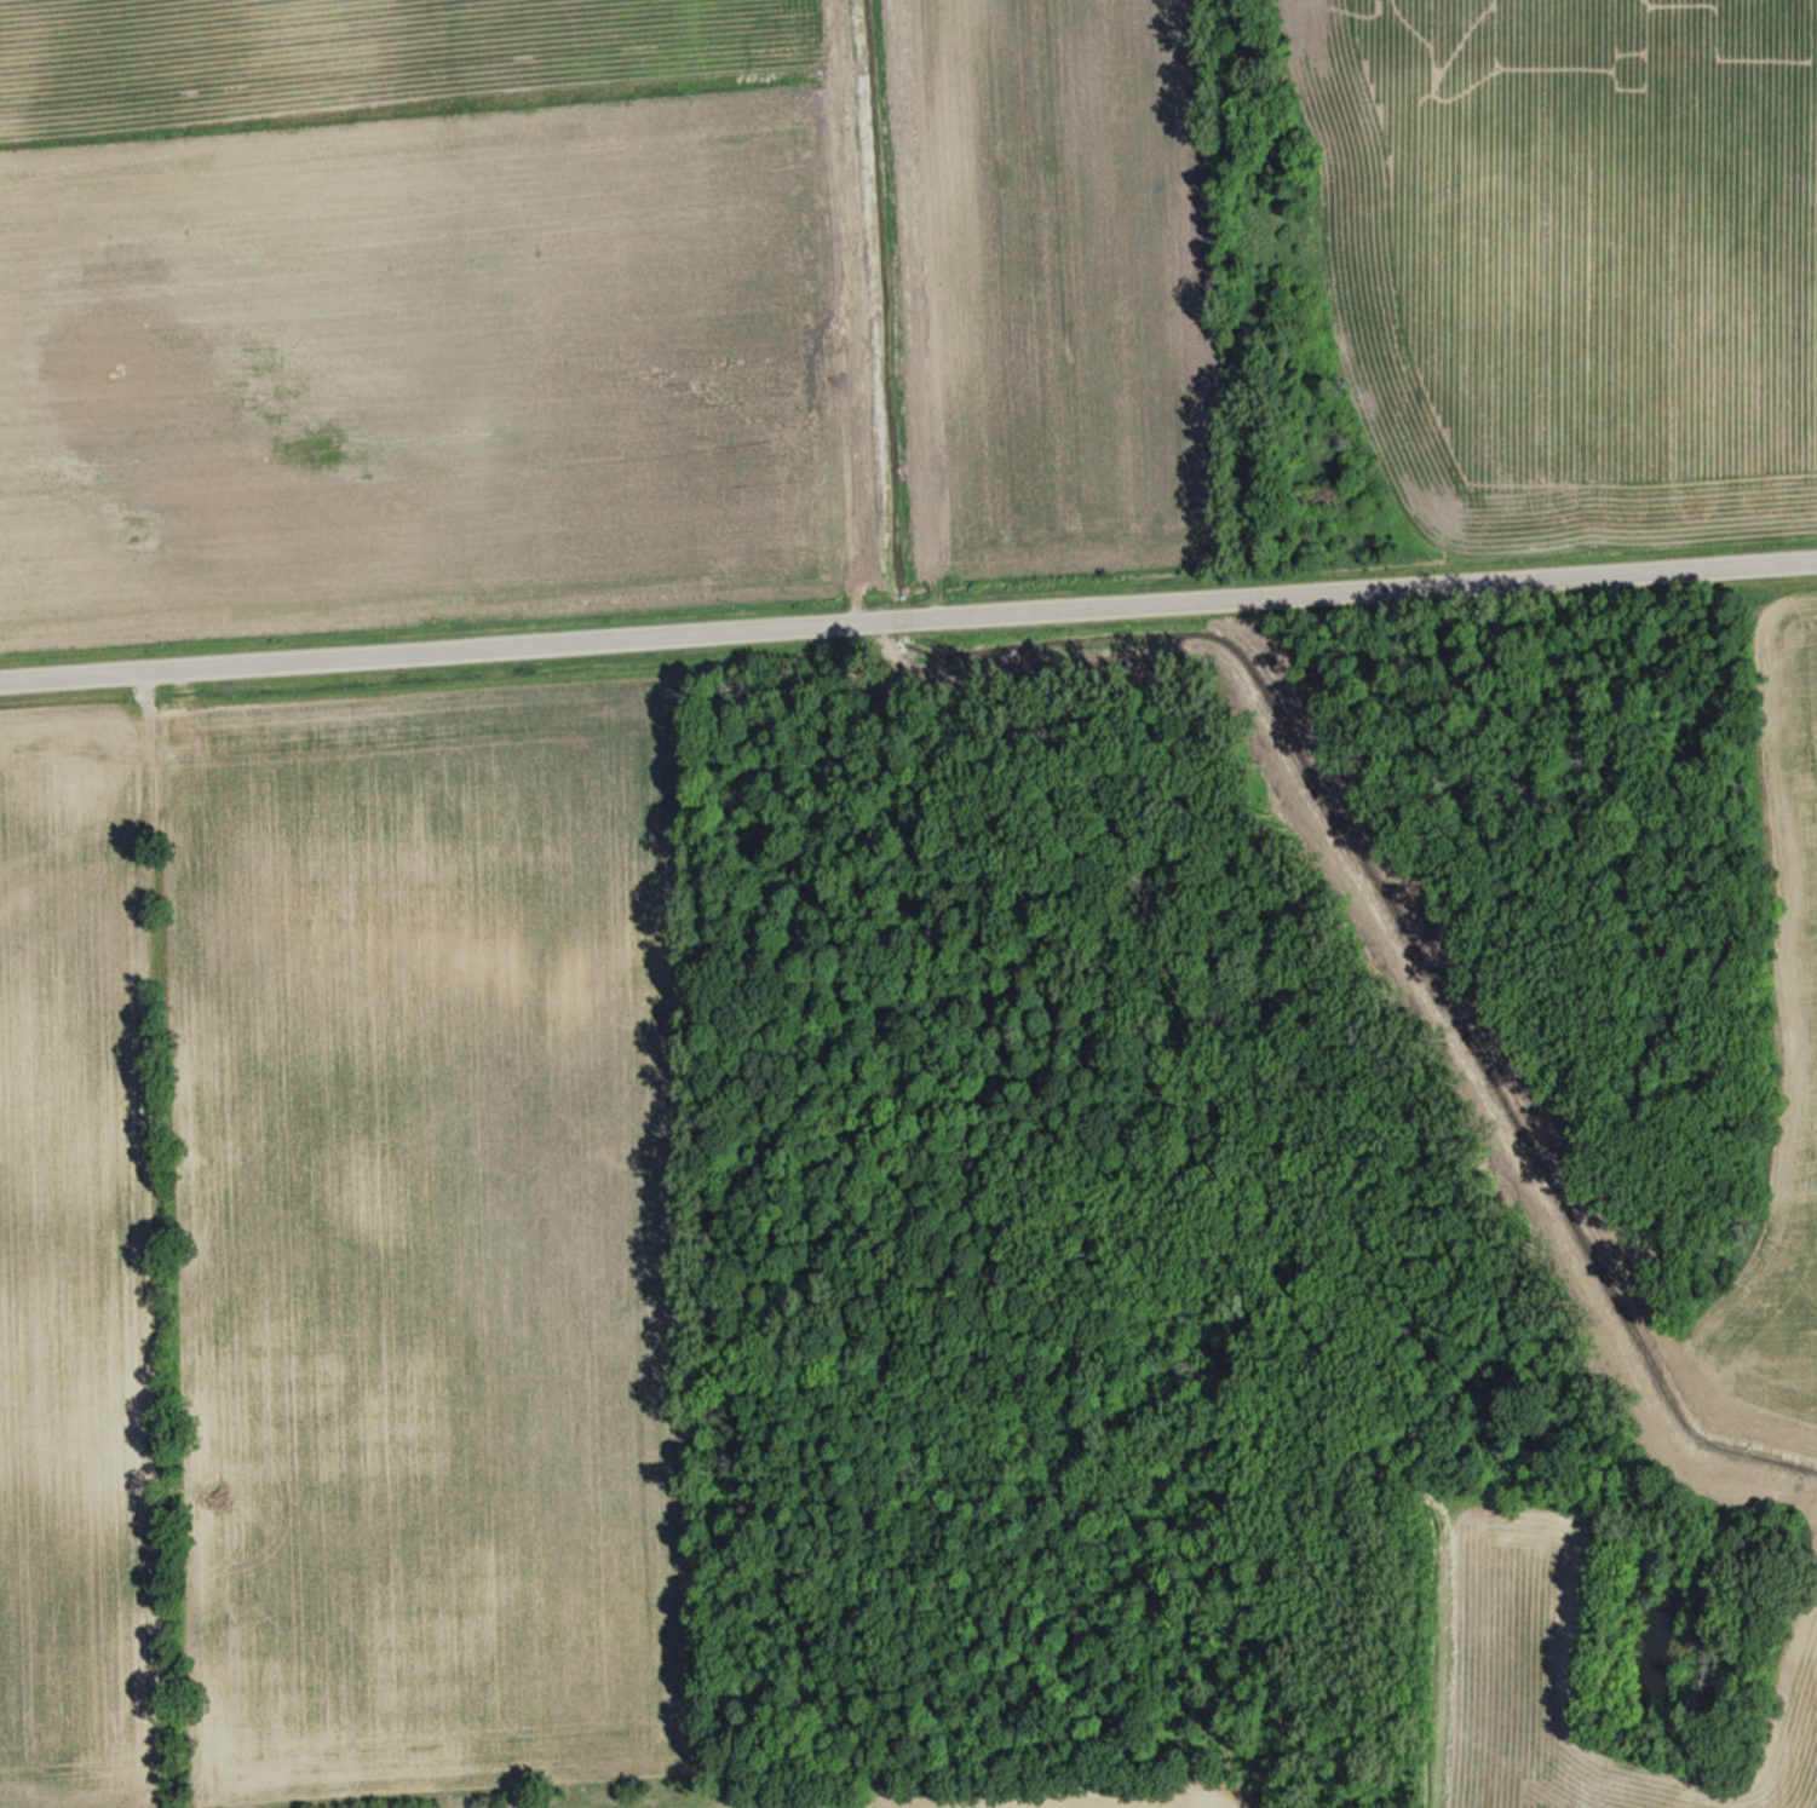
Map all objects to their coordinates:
road: (908, 618)

